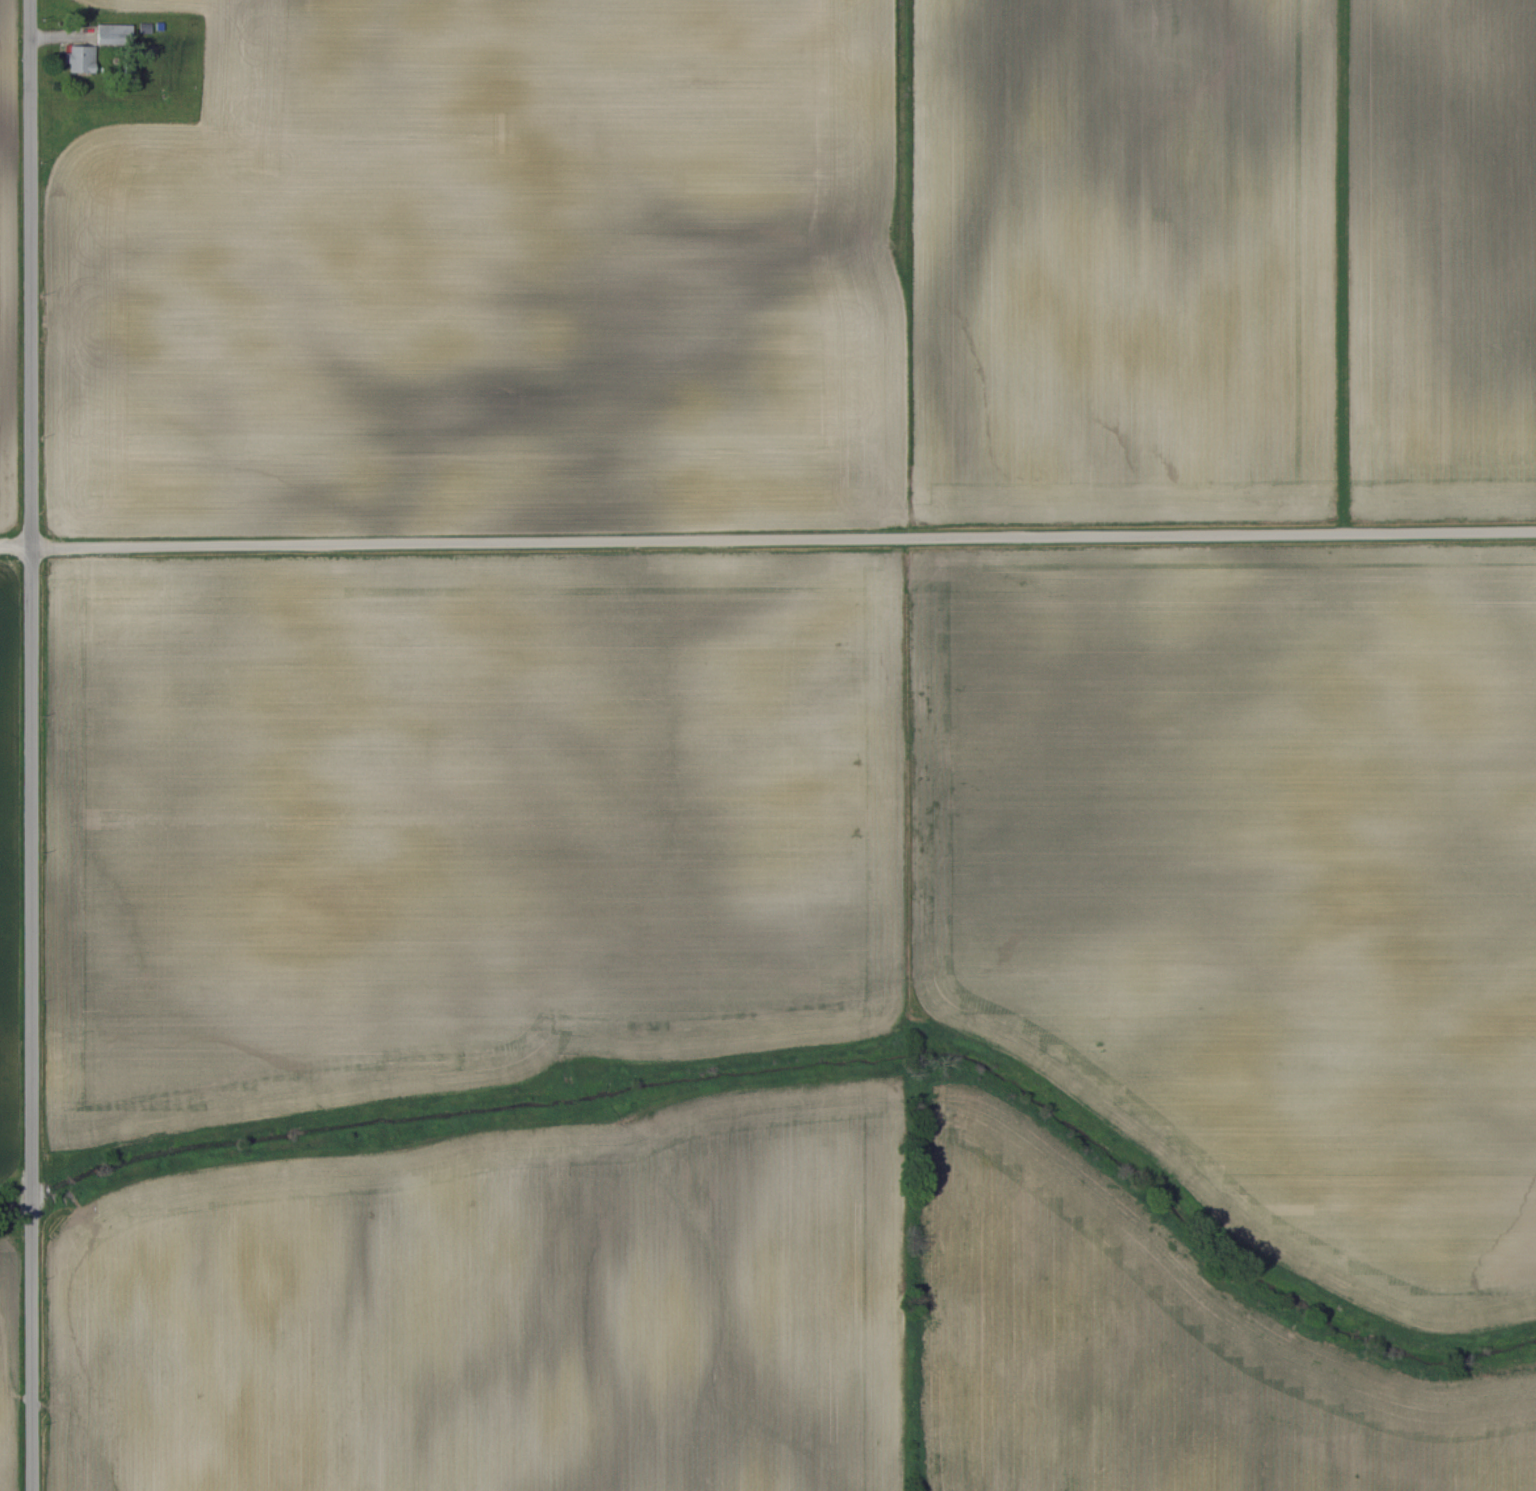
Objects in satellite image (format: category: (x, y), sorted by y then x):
building: (79, 58)
road: (768, 539)
road: (25, 745)

